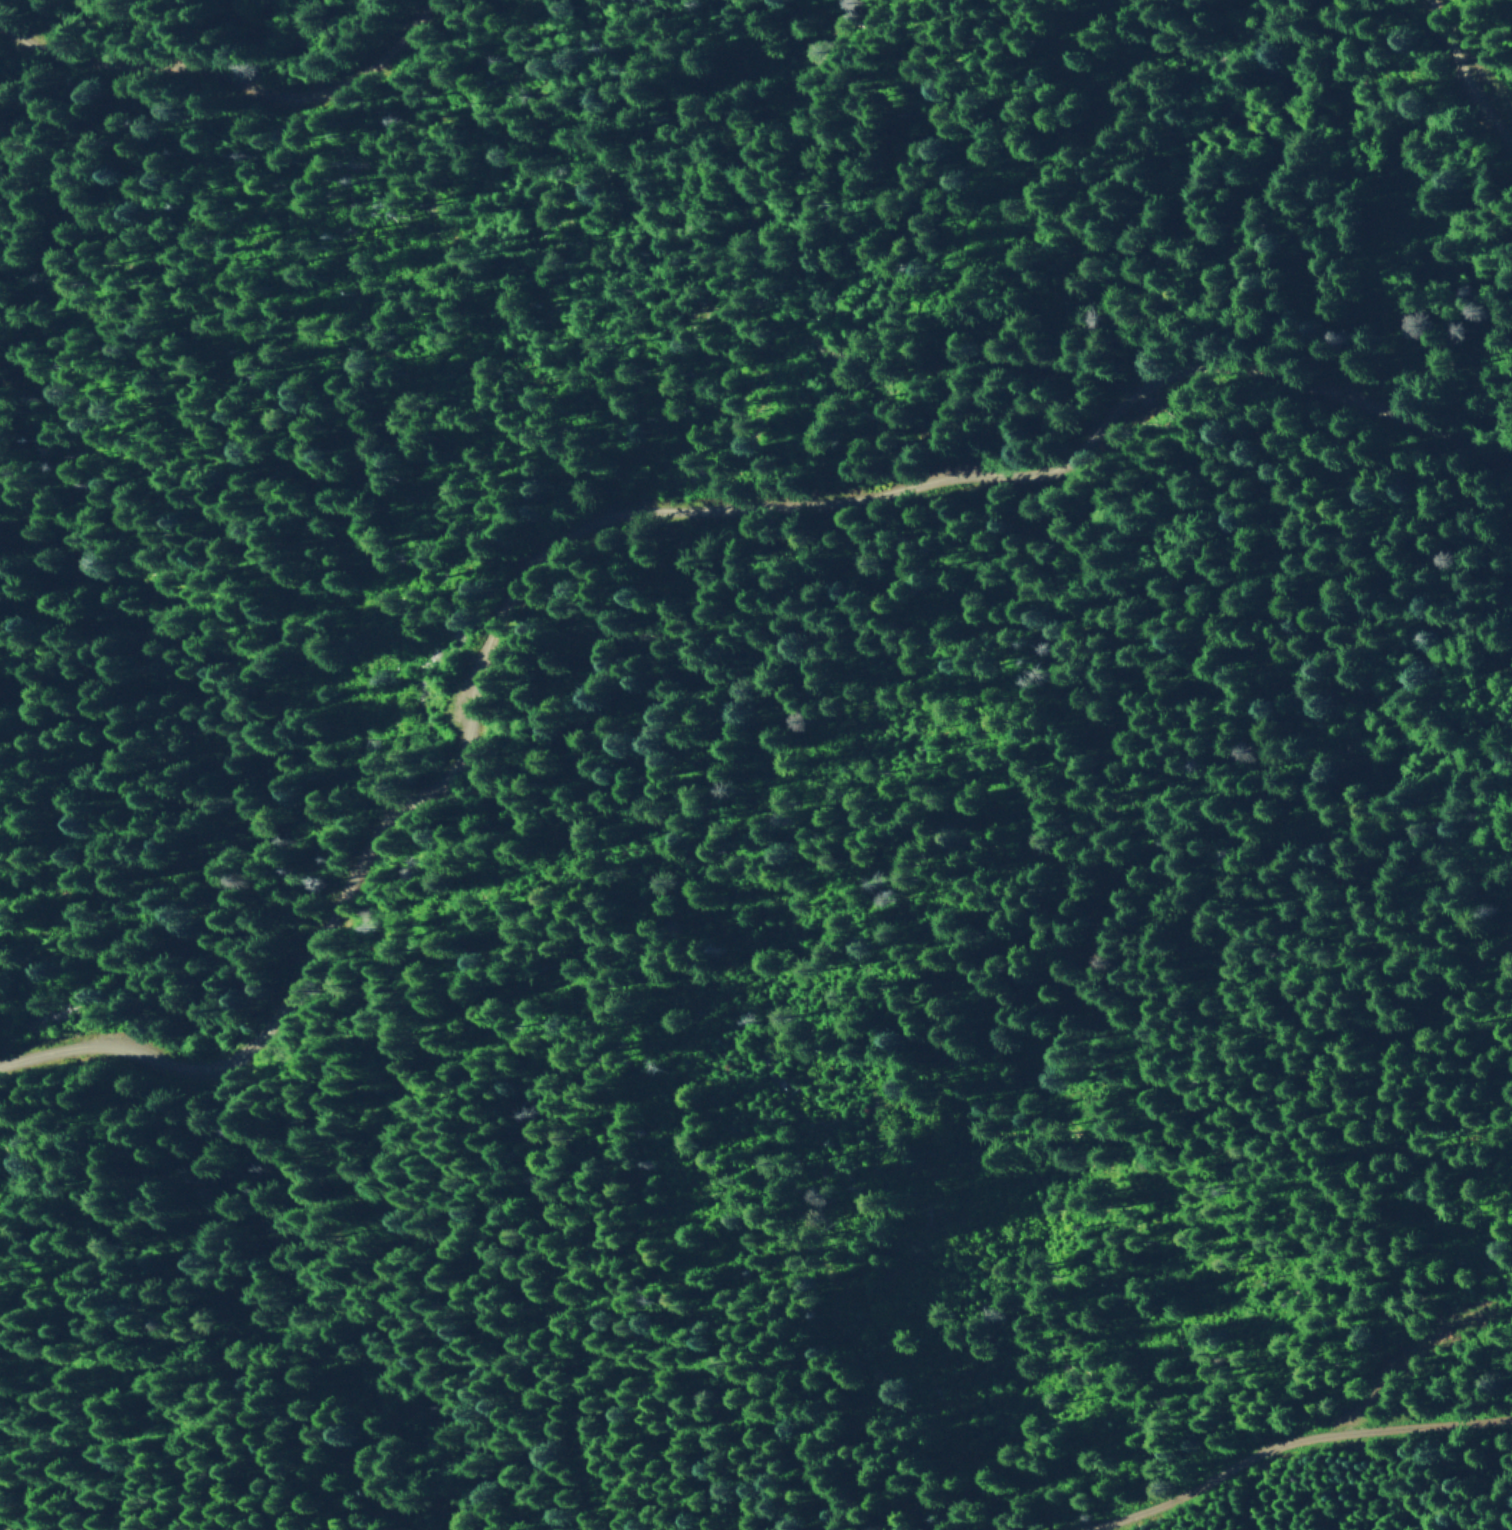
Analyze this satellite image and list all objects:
road: (230, 94)
road: (1312, 1462)

